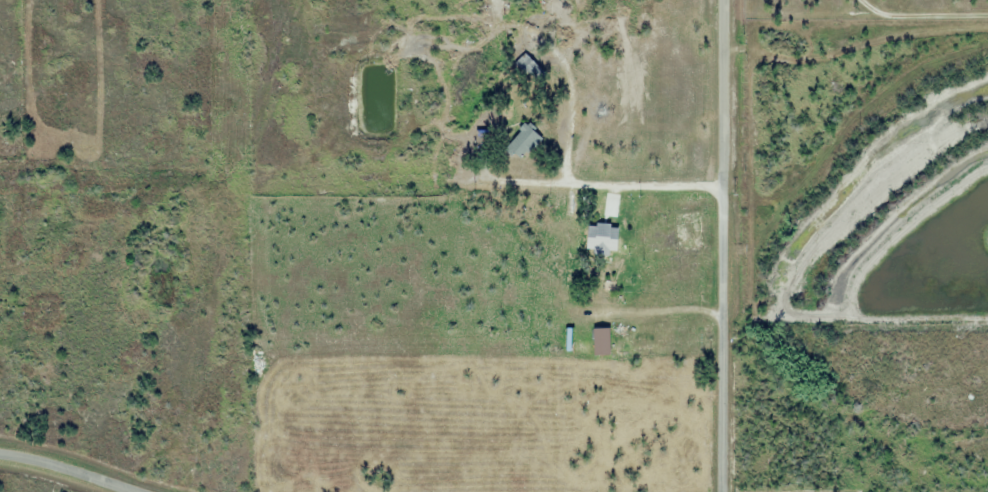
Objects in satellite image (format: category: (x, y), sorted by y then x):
building: (496, 8)
road: (922, 15)
building: (522, 141)
building: (610, 206)
building: (569, 228)
building: (609, 242)
road: (721, 246)
building: (633, 340)
road: (66, 471)

